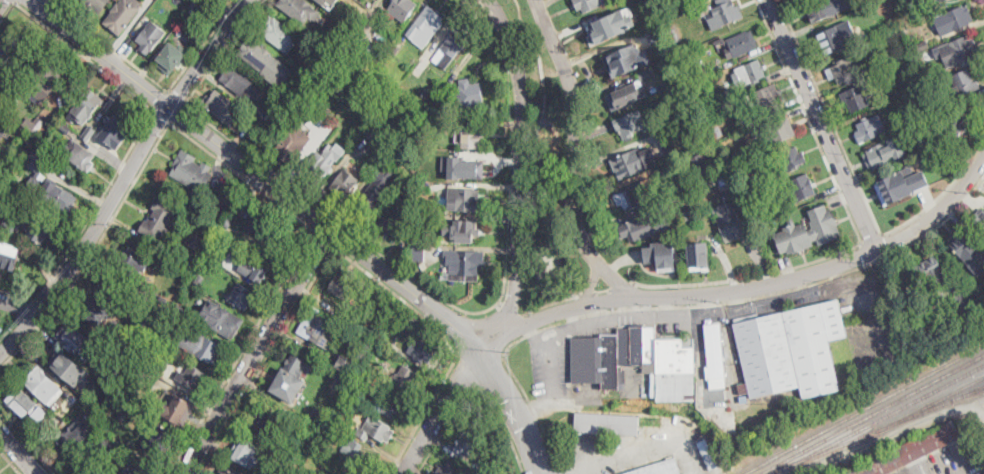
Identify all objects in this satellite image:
building: (942, 0)
road: (12, 1)
building: (323, 1)
road: (1, 2)
road: (52, 3)
road: (59, 3)
building: (860, 3)
building: (899, 3)
building: (589, 4)
road: (45, 5)
building: (96, 5)
building: (201, 6)
building: (398, 9)
building: (299, 10)
building: (818, 10)
road: (6, 11)
building: (665, 12)
building: (722, 14)
building: (124, 15)
building: (957, 18)
building: (611, 24)
building: (425, 25)
building: (868, 29)
building: (278, 33)
building: (676, 36)
building: (656, 37)
building: (150, 38)
building: (834, 40)
building: (739, 44)
road: (203, 45)
building: (923, 46)
building: (10, 48)
road: (113, 48)
building: (451, 48)
building: (962, 49)
building: (338, 50)
building: (395, 50)
road: (84, 52)
building: (171, 57)
building: (349, 58)
building: (261, 59)
building: (623, 59)
building: (851, 67)
building: (420, 69)
building: (923, 71)
building: (318, 72)
building: (749, 73)
building: (701, 74)
building: (646, 75)
building: (46, 80)
building: (240, 81)
building: (308, 84)
building: (963, 84)
building: (703, 89)
building: (424, 91)
building: (470, 93)
building: (628, 95)
road: (161, 98)
road: (176, 98)
building: (856, 99)
building: (932, 99)
building: (765, 100)
building: (86, 106)
building: (224, 108)
building: (260, 110)
building: (689, 110)
road: (162, 113)
road: (178, 113)
road: (176, 115)
building: (711, 117)
road: (810, 121)
building: (957, 123)
building: (633, 124)
building: (699, 124)
road: (822, 124)
building: (33, 125)
building: (4, 127)
building: (65, 127)
building: (871, 128)
building: (717, 130)
building: (780, 131)
building: (116, 132)
building: (89, 133)
building: (372, 133)
building: (473, 137)
building: (921, 143)
building: (290, 147)
building: (44, 154)
road: (141, 154)
building: (80, 155)
building: (883, 155)
road: (574, 157)
building: (36, 159)
building: (793, 159)
building: (630, 162)
building: (699, 163)
building: (746, 166)
building: (318, 167)
building: (463, 167)
road: (234, 170)
building: (191, 172)
road: (519, 172)
building: (686, 181)
park: (545, 184)
building: (344, 185)
building: (380, 185)
building: (900, 185)
road: (860, 186)
building: (801, 187)
building: (425, 188)
building: (236, 189)
road: (297, 189)
building: (709, 191)
building: (4, 192)
building: (634, 196)
building: (59, 197)
building: (463, 199)
building: (368, 206)
building: (686, 215)
building: (159, 219)
building: (423, 219)
road: (89, 221)
building: (229, 222)
building: (979, 222)
building: (38, 223)
building: (393, 223)
building: (730, 223)
building: (12, 225)
building: (636, 229)
building: (464, 230)
building: (809, 230)
building: (268, 232)
road: (325, 238)
road: (872, 240)
building: (194, 241)
building: (967, 250)
building: (417, 252)
building: (660, 253)
building: (698, 255)
building: (9, 256)
building: (133, 263)
building: (460, 264)
building: (255, 267)
building: (932, 271)
road: (750, 277)
building: (200, 280)
building: (343, 283)
road: (405, 285)
road: (593, 285)
road: (623, 286)
road: (752, 286)
road: (310, 287)
road: (604, 291)
road: (588, 294)
building: (241, 296)
building: (163, 298)
building: (960, 301)
road: (550, 305)
road: (694, 306)
road: (19, 307)
building: (101, 307)
road: (27, 309)
road: (511, 309)
building: (180, 310)
building: (175, 317)
building: (221, 319)
road: (17, 321)
building: (151, 321)
road: (558, 326)
building: (318, 328)
road: (462, 334)
road: (538, 334)
road: (20, 336)
building: (76, 341)
building: (202, 347)
building: (105, 348)
road: (257, 350)
building: (423, 350)
building: (791, 350)
building: (714, 351)
building: (637, 362)
building: (368, 366)
building: (345, 367)
building: (71, 368)
road: (554, 368)
parking lot: (556, 371)
road: (468, 373)
building: (122, 374)
building: (191, 377)
building: (405, 377)
building: (290, 379)
building: (41, 382)
building: (135, 386)
road: (476, 389)
railway: (969, 395)
building: (74, 396)
building: (128, 397)
building: (21, 402)
railway: (939, 403)
building: (396, 406)
road: (444, 407)
road: (515, 407)
building: (177, 409)
railway: (865, 409)
road: (539, 410)
building: (55, 415)
building: (121, 415)
road: (424, 415)
railway: (874, 415)
building: (319, 416)
railway: (886, 417)
building: (607, 423)
building: (95, 424)
building: (265, 424)
building: (47, 428)
building: (376, 429)
building: (77, 431)
building: (113, 431)
railway: (878, 432)
building: (72, 440)
road: (27, 441)
building: (159, 441)
building: (106, 444)
building: (466, 444)
building: (245, 451)
building: (911, 451)
road: (19, 452)
road: (625, 453)
building: (710, 455)
building: (297, 456)
building: (361, 458)
road: (10, 461)
parking lot: (946, 463)
building: (449, 468)
building: (659, 468)
building: (89, 470)
building: (139, 471)
building: (227, 472)
building: (303, 472)
building: (489, 473)

